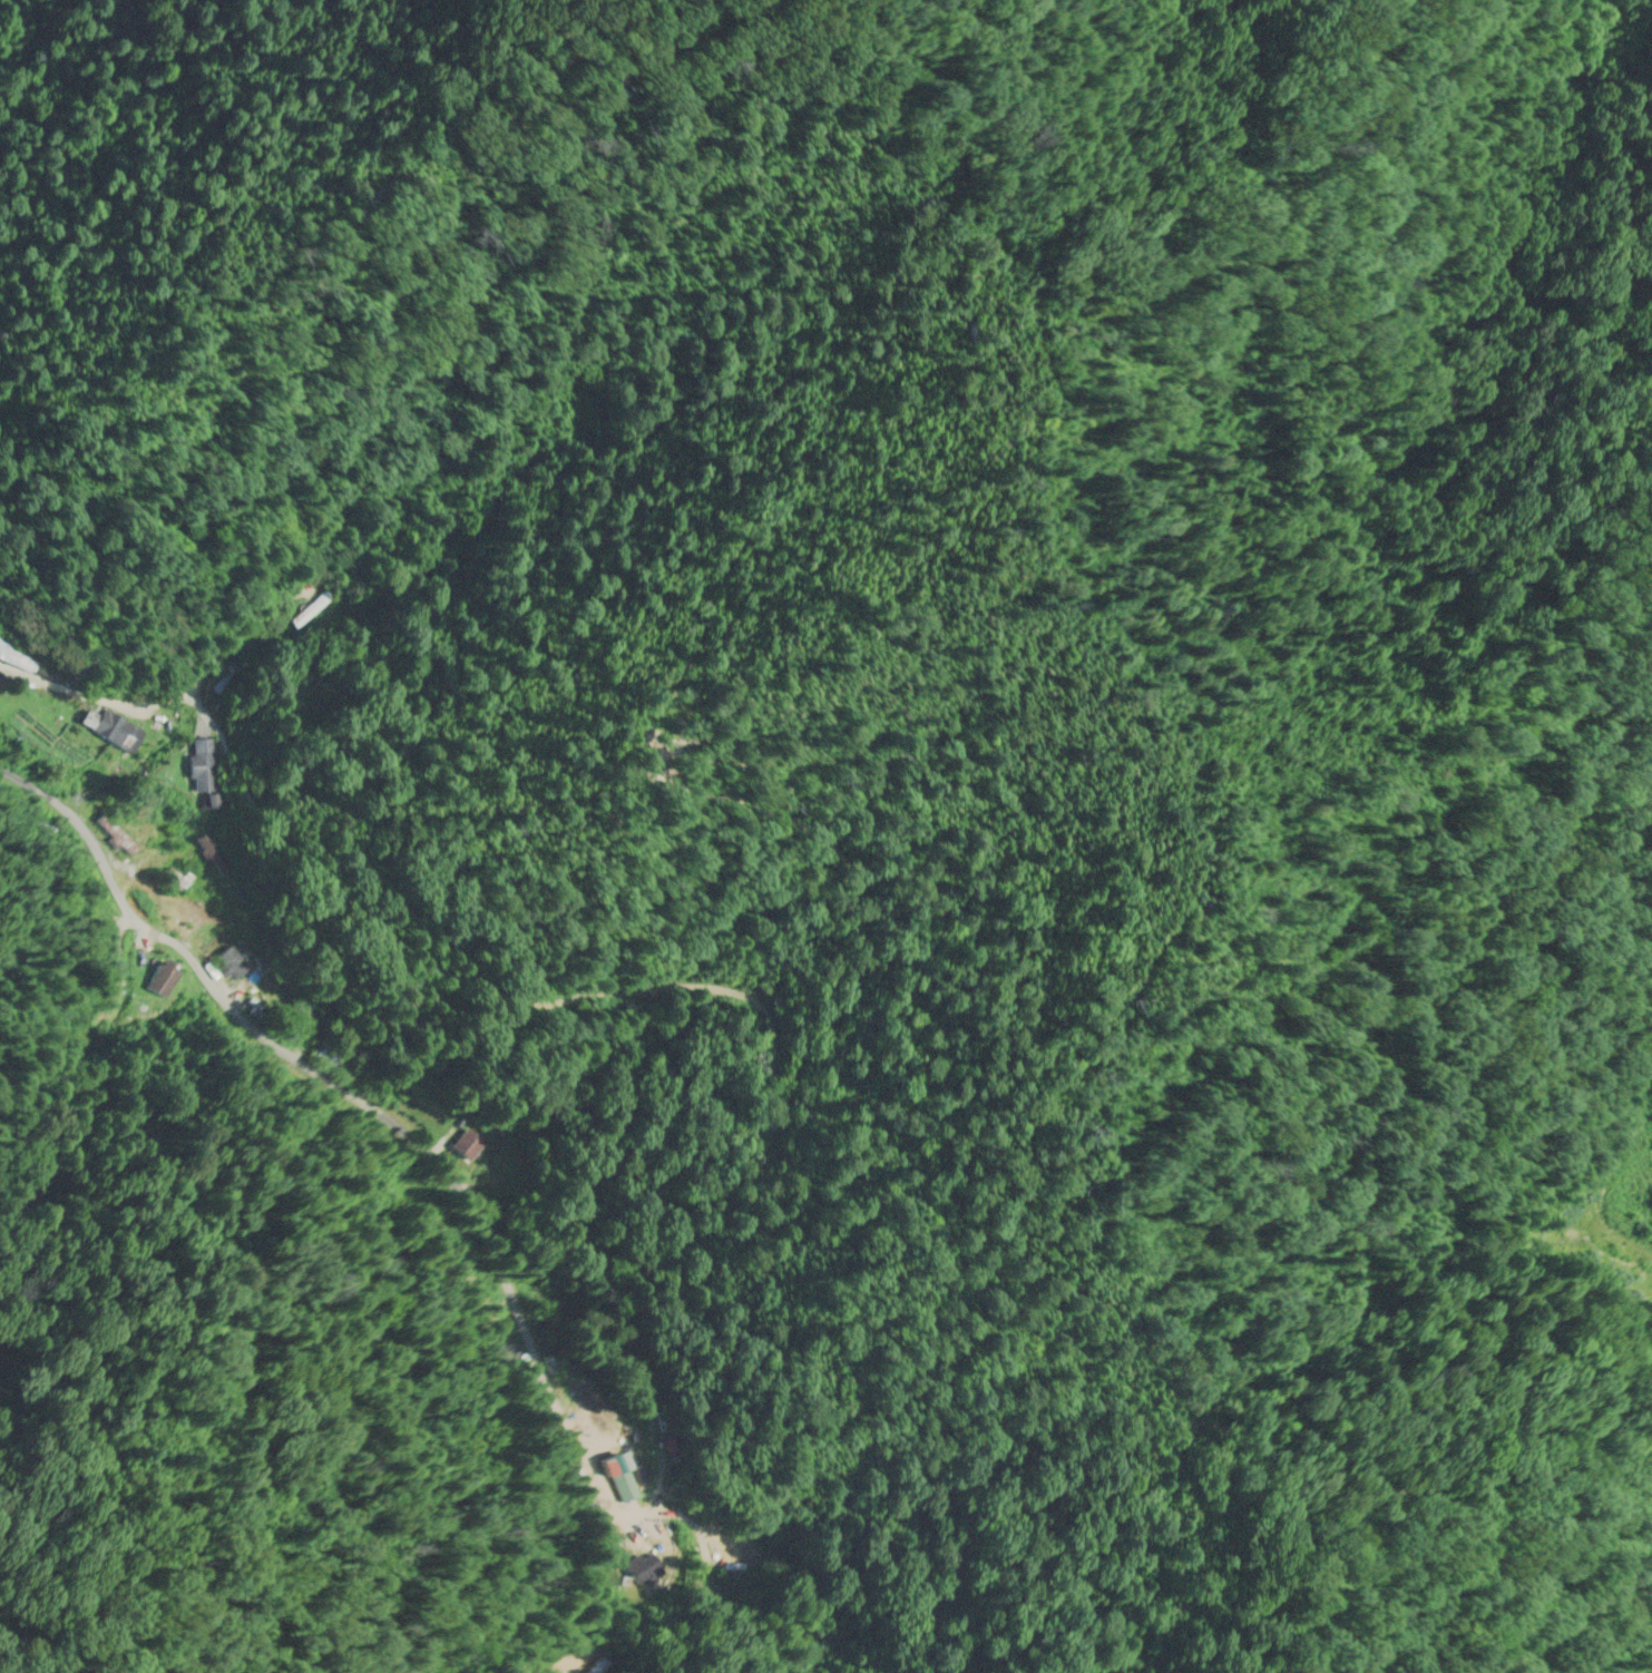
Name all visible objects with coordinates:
road: (60, 522)
building: (309, 613)
building: (221, 683)
road: (71, 695)
building: (117, 736)
building: (193, 769)
road: (320, 956)
building: (160, 981)
road: (359, 1098)
building: (664, 1548)
building: (725, 1555)
building: (646, 1575)
building: (603, 1667)

